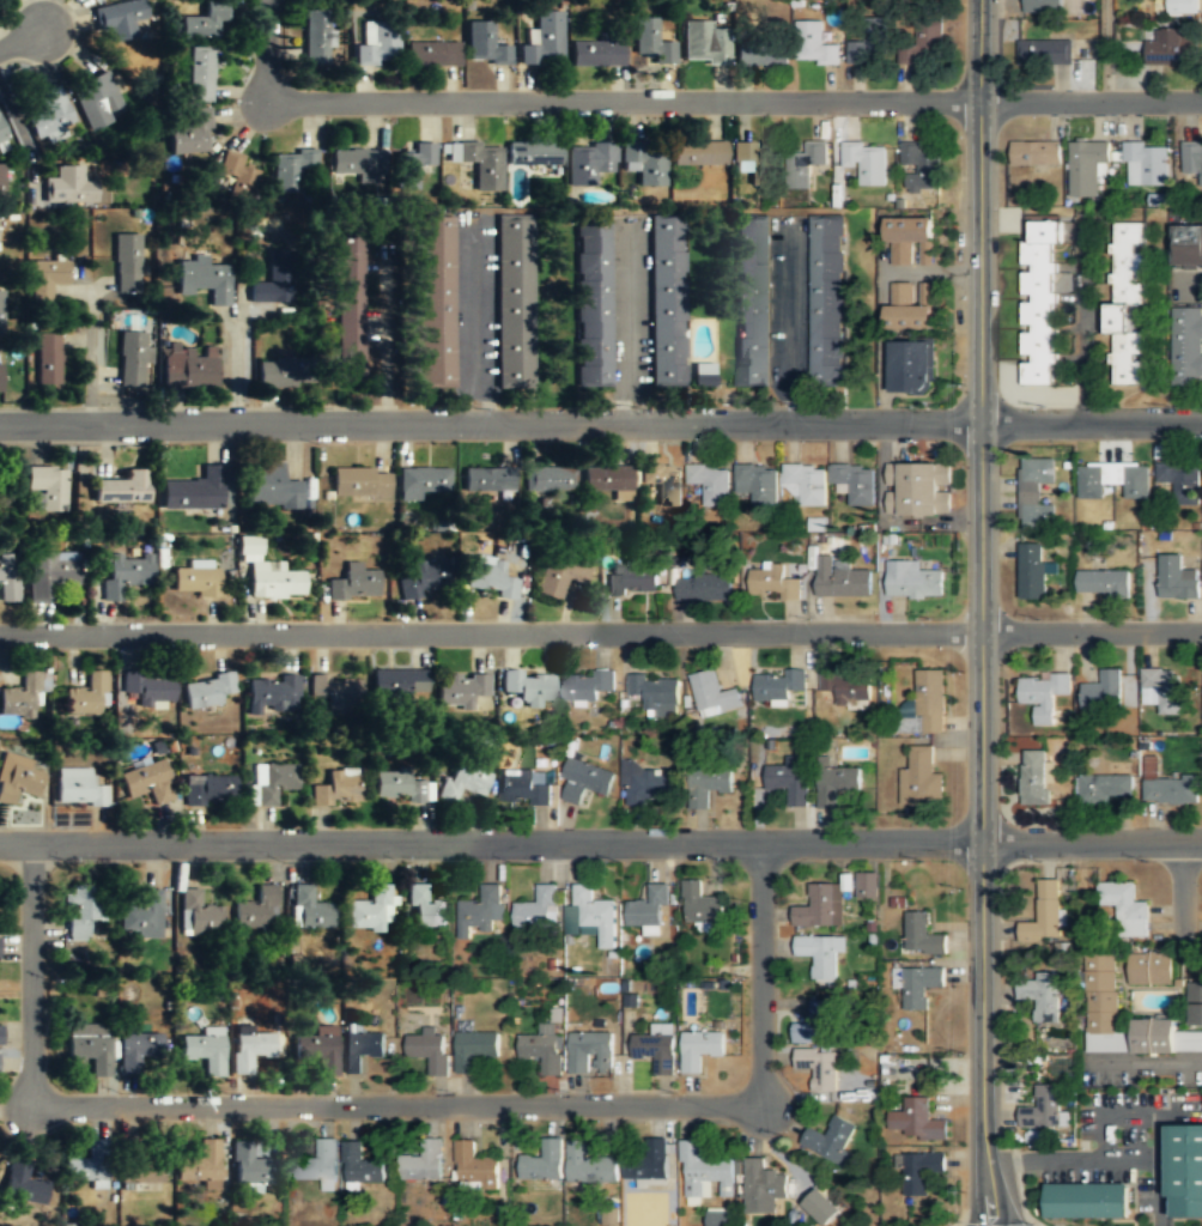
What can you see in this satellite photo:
building: (92, 0)
building: (97, 0)
building: (1183, 6)
building: (1040, 7)
building: (119, 19)
building: (202, 22)
road: (23, 37)
building: (315, 38)
building: (542, 41)
building: (652, 42)
building: (376, 44)
building: (702, 44)
building: (814, 44)
road: (263, 45)
building: (484, 45)
building: (922, 47)
building: (866, 48)
road: (1107, 49)
building: (1168, 49)
building: (759, 51)
building: (1045, 53)
building: (596, 54)
building: (432, 55)
building: (199, 73)
building: (97, 99)
road: (731, 103)
building: (49, 116)
building: (192, 133)
building: (2, 134)
building: (698, 153)
building: (1036, 153)
building: (533, 154)
building: (751, 160)
building: (867, 160)
building: (1192, 160)
building: (358, 163)
building: (479, 163)
building: (589, 163)
building: (807, 163)
building: (643, 164)
building: (1146, 164)
building: (412, 165)
building: (919, 166)
building: (1086, 166)
building: (292, 172)
building: (238, 175)
building: (2, 183)
building: (69, 186)
road: (982, 210)
building: (0, 239)
building: (910, 241)
building: (1186, 247)
building: (127, 262)
building: (204, 278)
building: (45, 279)
building: (273, 279)
building: (666, 301)
building: (435, 302)
building: (512, 302)
building: (753, 302)
building: (1125, 302)
building: (593, 303)
building: (826, 303)
building: (1039, 304)
building: (350, 305)
building: (910, 306)
building: (0, 312)
building: (1186, 346)
road: (89, 356)
building: (47, 359)
building: (130, 359)
building: (910, 366)
building: (188, 369)
road: (233, 370)
building: (278, 372)
building: (698, 374)
building: (0, 377)
road: (1092, 420)
road: (491, 424)
building: (607, 479)
building: (1113, 479)
building: (1182, 479)
building: (548, 480)
building: (854, 480)
building: (359, 481)
building: (420, 481)
building: (490, 481)
building: (663, 482)
building: (712, 482)
building: (806, 482)
building: (757, 484)
building: (48, 486)
building: (271, 487)
building: (122, 488)
building: (918, 488)
building: (193, 491)
building: (1036, 492)
building: (1032, 571)
building: (50, 573)
building: (123, 573)
building: (558, 575)
building: (490, 577)
building: (1177, 577)
building: (632, 578)
building: (842, 578)
building: (7, 581)
building: (274, 581)
building: (912, 581)
building: (194, 582)
building: (773, 582)
building: (353, 583)
building: (419, 583)
building: (1104, 583)
building: (704, 587)
road: (601, 632)
building: (399, 684)
building: (587, 686)
building: (778, 686)
building: (1160, 686)
building: (528, 687)
building: (147, 688)
building: (846, 688)
building: (460, 690)
building: (206, 691)
building: (335, 691)
building: (655, 692)
building: (1104, 692)
building: (272, 694)
building: (714, 694)
building: (87, 696)
building: (1044, 696)
building: (22, 698)
building: (928, 703)
building: (1128, 721)
building: (1036, 777)
building: (922, 778)
building: (18, 779)
building: (462, 781)
building: (271, 782)
building: (587, 782)
building: (790, 782)
building: (147, 783)
building: (837, 784)
building: (401, 785)
building: (709, 785)
building: (336, 787)
building: (526, 787)
building: (78, 788)
building: (652, 788)
building: (1107, 788)
building: (210, 790)
building: (1171, 790)
road: (983, 824)
road: (601, 842)
street lamp: (1039, 860)
road: (1183, 878)
building: (866, 884)
street lamp: (965, 888)
building: (700, 905)
building: (309, 908)
building: (426, 908)
building: (820, 908)
building: (1125, 908)
building: (256, 909)
building: (369, 909)
building: (481, 909)
building: (538, 909)
building: (79, 911)
building: (198, 912)
building: (649, 912)
building: (140, 914)
building: (1044, 915)
building: (591, 916)
building: (923, 933)
building: (0, 946)
building: (820, 953)
building: (1151, 969)
road: (30, 972)
road: (761, 973)
building: (917, 984)
building: (1101, 994)
building: (1043, 997)
building: (1196, 1005)
building: (816, 1024)
building: (1, 1033)
building: (1165, 1038)
building: (89, 1045)
building: (656, 1046)
building: (700, 1048)
building: (318, 1049)
building: (362, 1049)
building: (475, 1049)
building: (542, 1049)
building: (250, 1050)
building: (591, 1050)
building: (136, 1051)
building: (430, 1051)
street lamp: (966, 1051)
building: (204, 1052)
road: (1146, 1061)
building: (819, 1067)
road: (396, 1104)
building: (1043, 1110)
building: (1183, 1111)
road: (1133, 1117)
building: (916, 1121)
building: (830, 1140)
parking lot: (1124, 1145)
road: (1109, 1155)
building: (655, 1158)
building: (86, 1163)
building: (423, 1163)
building: (544, 1163)
building: (322, 1164)
building: (362, 1164)
building: (200, 1165)
building: (474, 1166)
building: (1186, 1166)
building: (250, 1167)
building: (141, 1169)
building: (594, 1170)
building: (921, 1171)
building: (704, 1172)
building: (23, 1183)
building: (763, 1188)
building: (1088, 1198)
building: (821, 1207)
building: (922, 1215)
building: (716, 1218)

